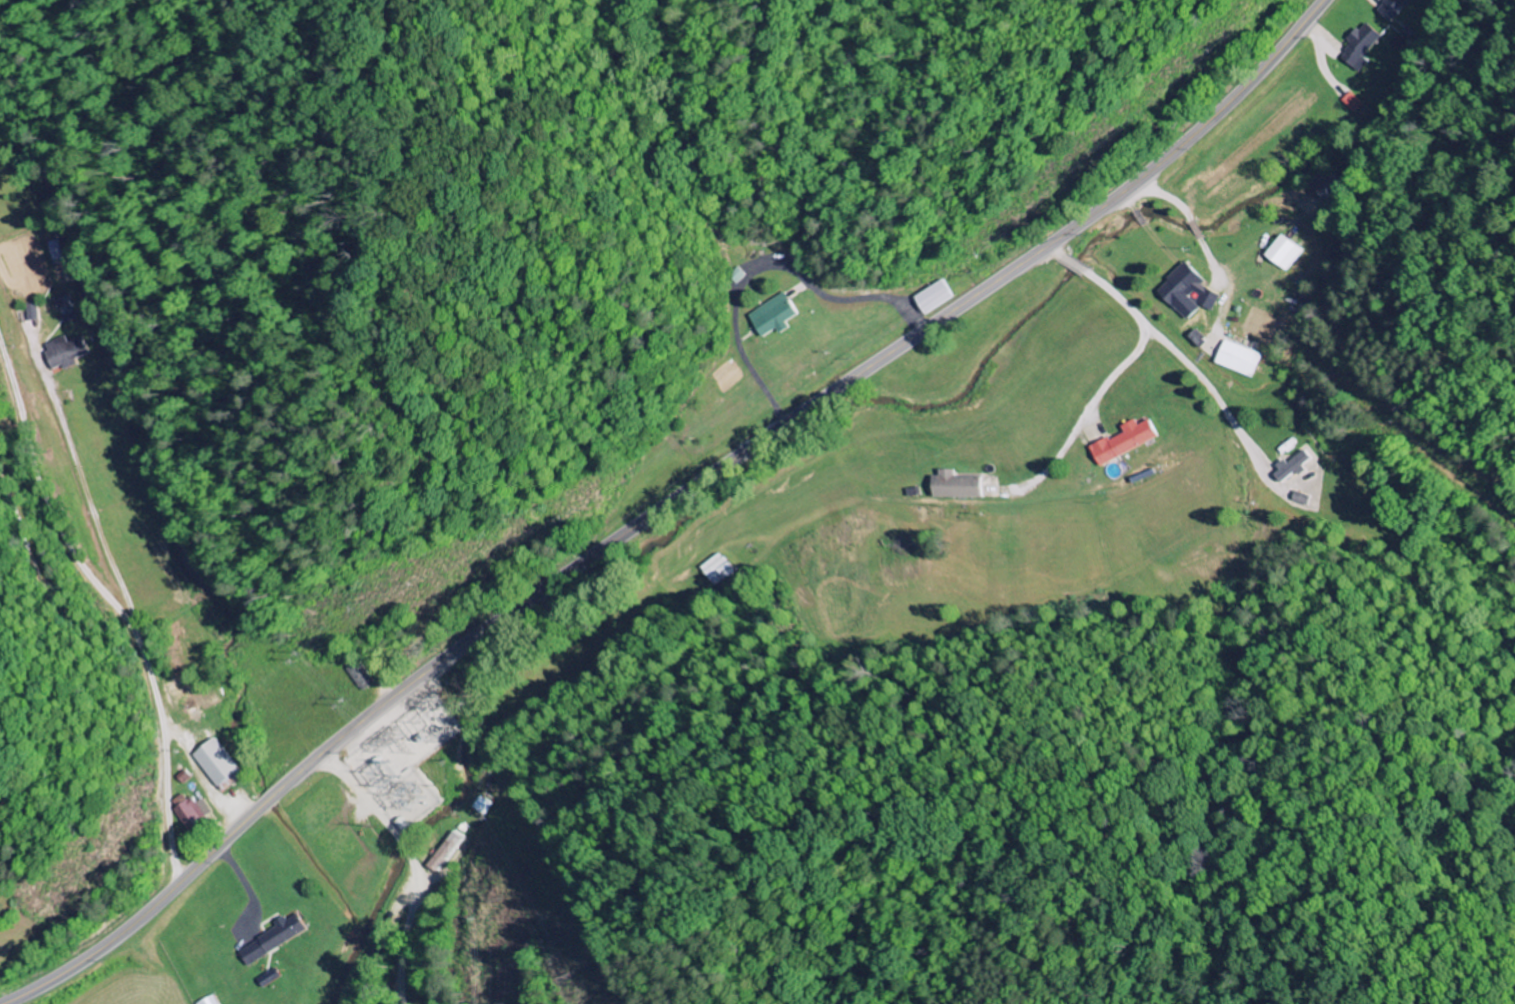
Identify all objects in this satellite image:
building: (1394, 8)
building: (1362, 45)
building: (57, 252)
building: (1285, 252)
building: (1189, 291)
building: (68, 308)
building: (33, 312)
building: (777, 315)
building: (68, 352)
building: (1242, 358)
road: (1295, 402)
road: (1084, 419)
building: (1128, 441)
building: (1294, 465)
road: (1245, 478)
building: (958, 485)
building: (1301, 498)
road: (665, 504)
road: (120, 516)
power substation: (407, 759)
building: (219, 764)
road: (368, 796)
building: (479, 805)
building: (191, 811)
road: (411, 851)
road: (861, 890)
park: (1073, 921)
road: (412, 929)
building: (277, 938)
road: (418, 967)
building: (271, 978)

